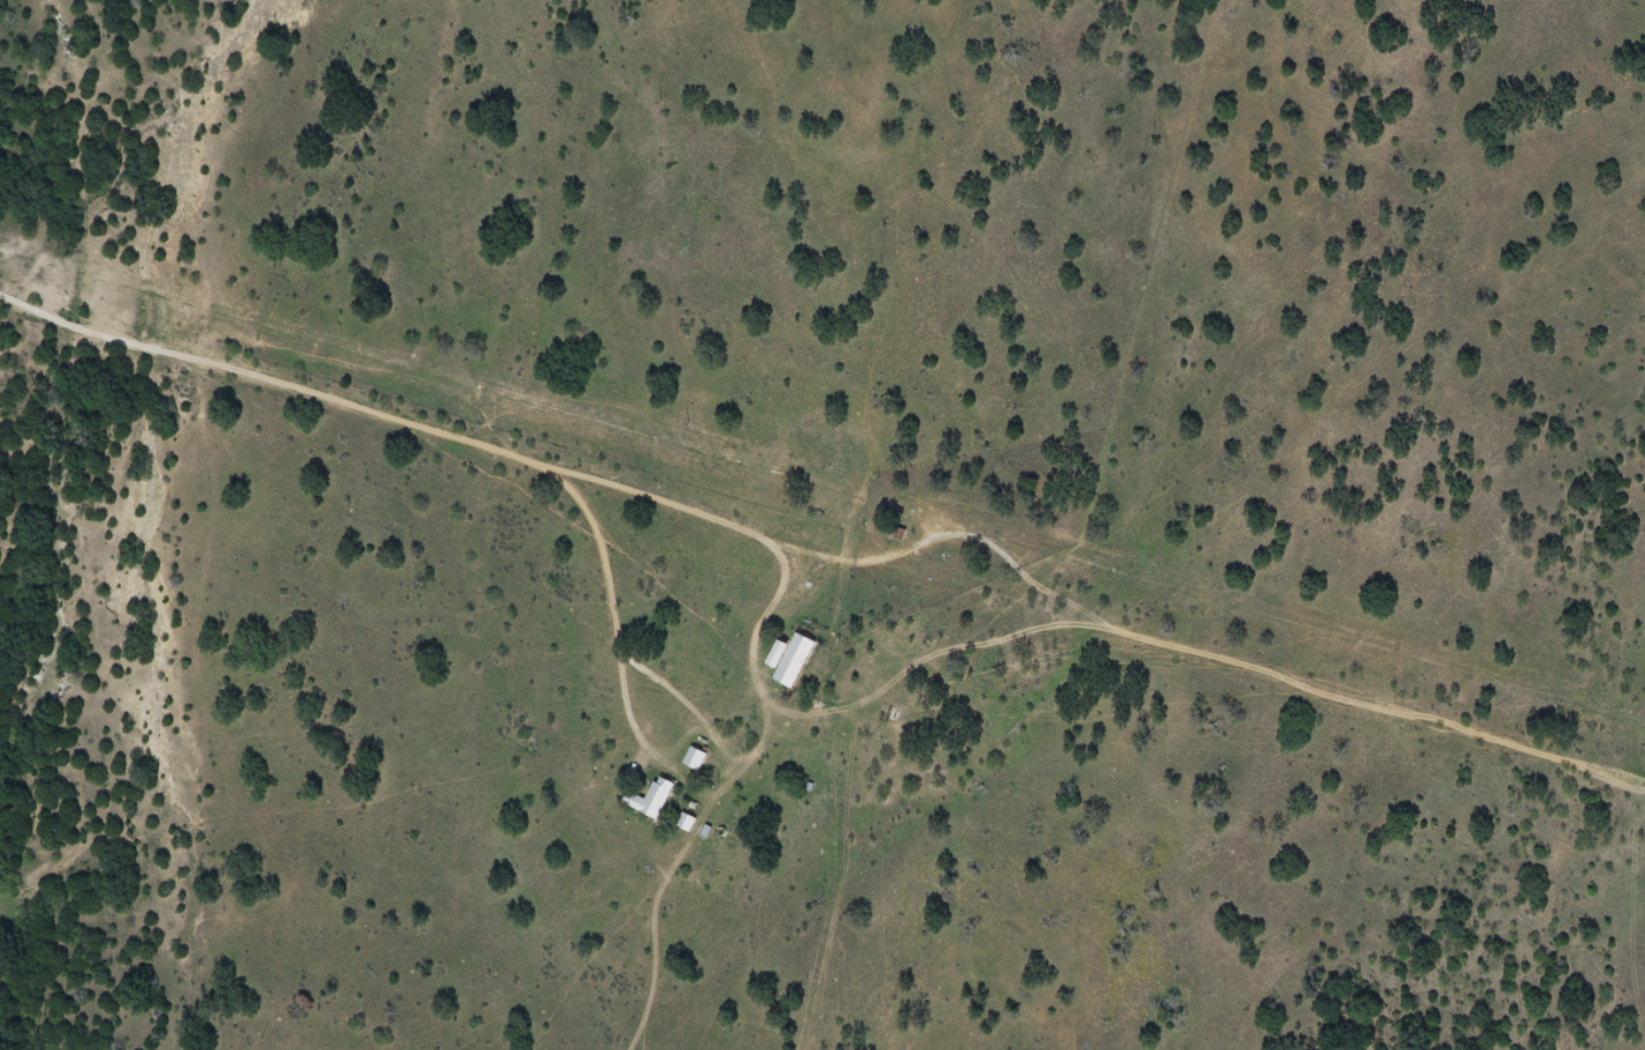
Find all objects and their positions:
road: (432, 473)
road: (1015, 561)
building: (794, 659)
road: (592, 670)
building: (693, 758)
building: (650, 799)
building: (685, 822)

